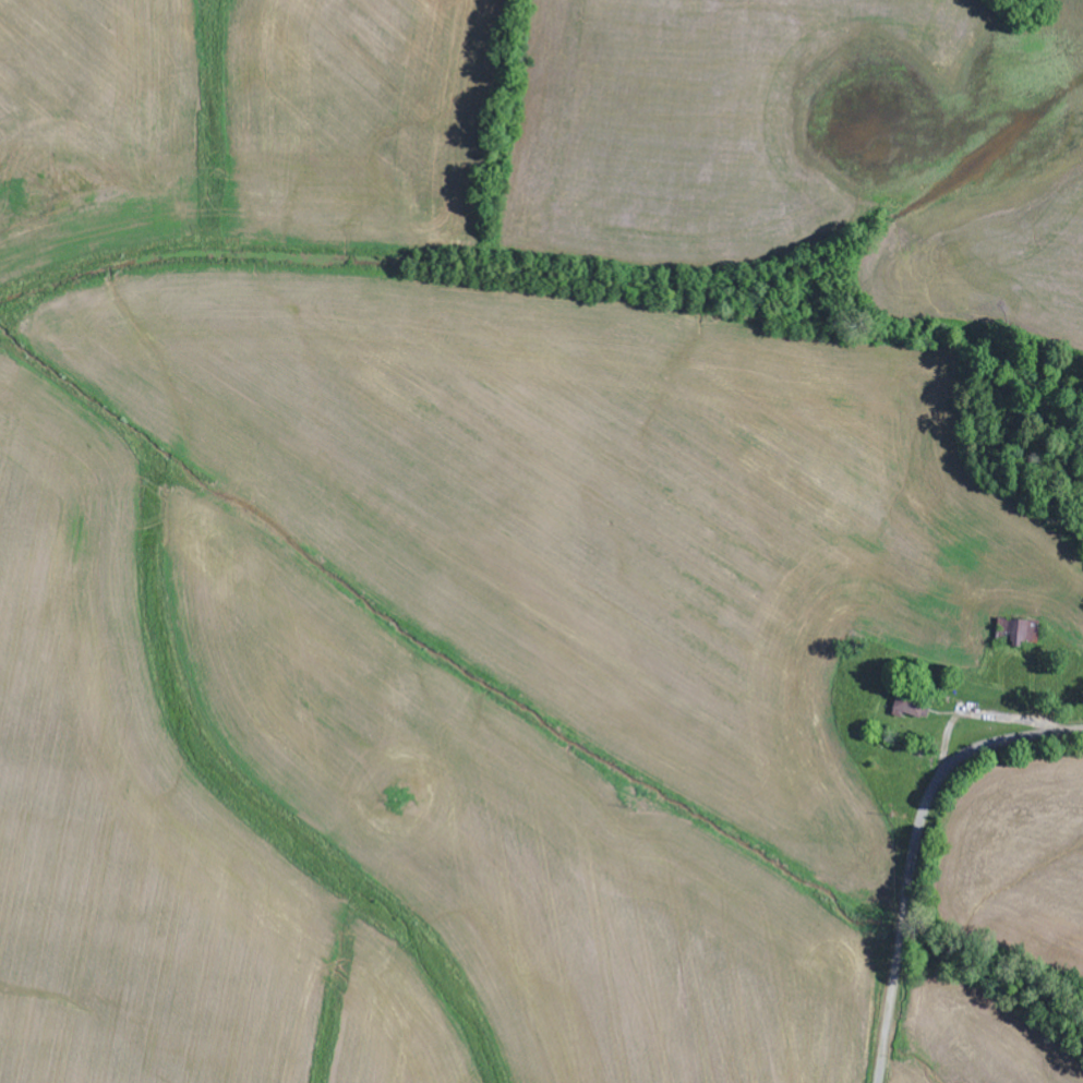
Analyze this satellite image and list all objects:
road: (912, 849)

